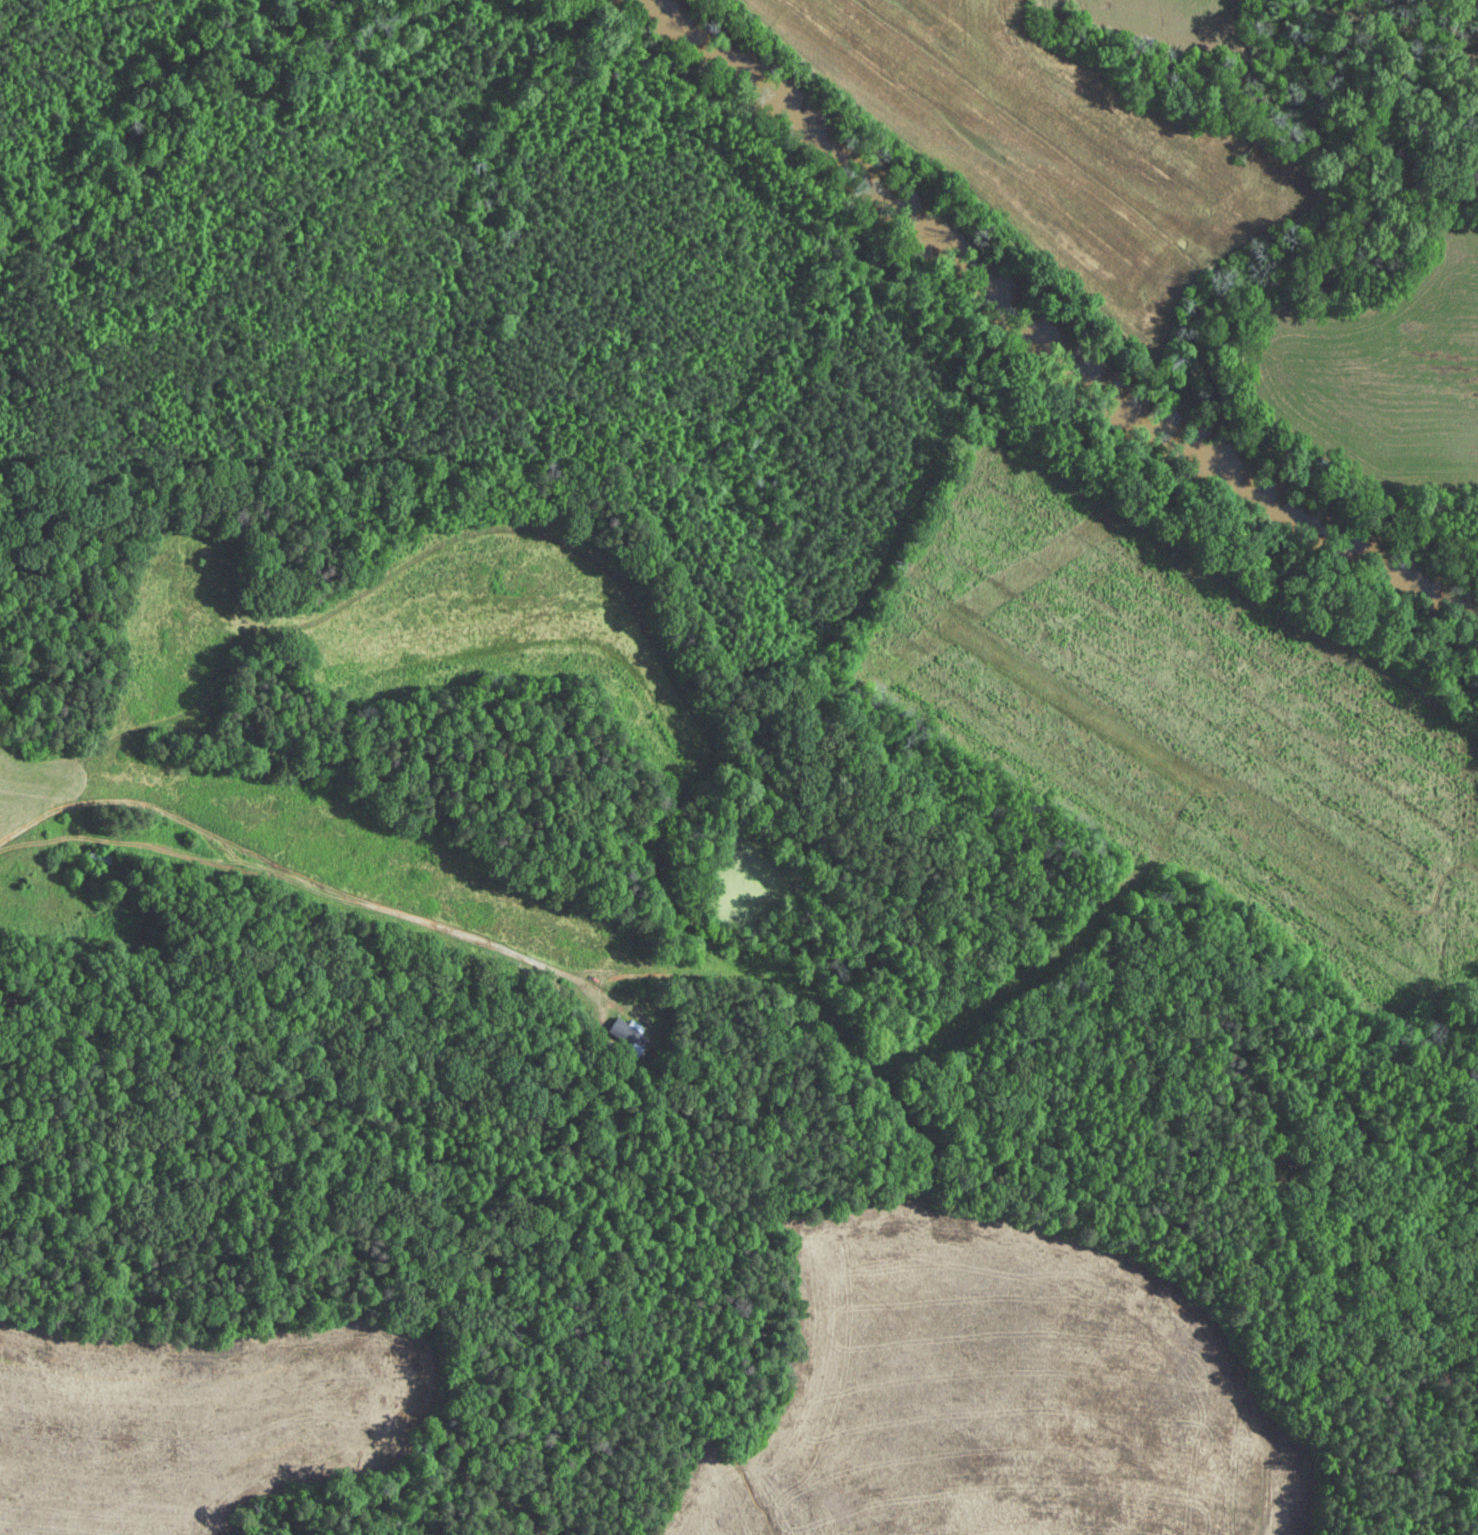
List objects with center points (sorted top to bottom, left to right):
river: (1024, 330)
building: (623, 1030)

